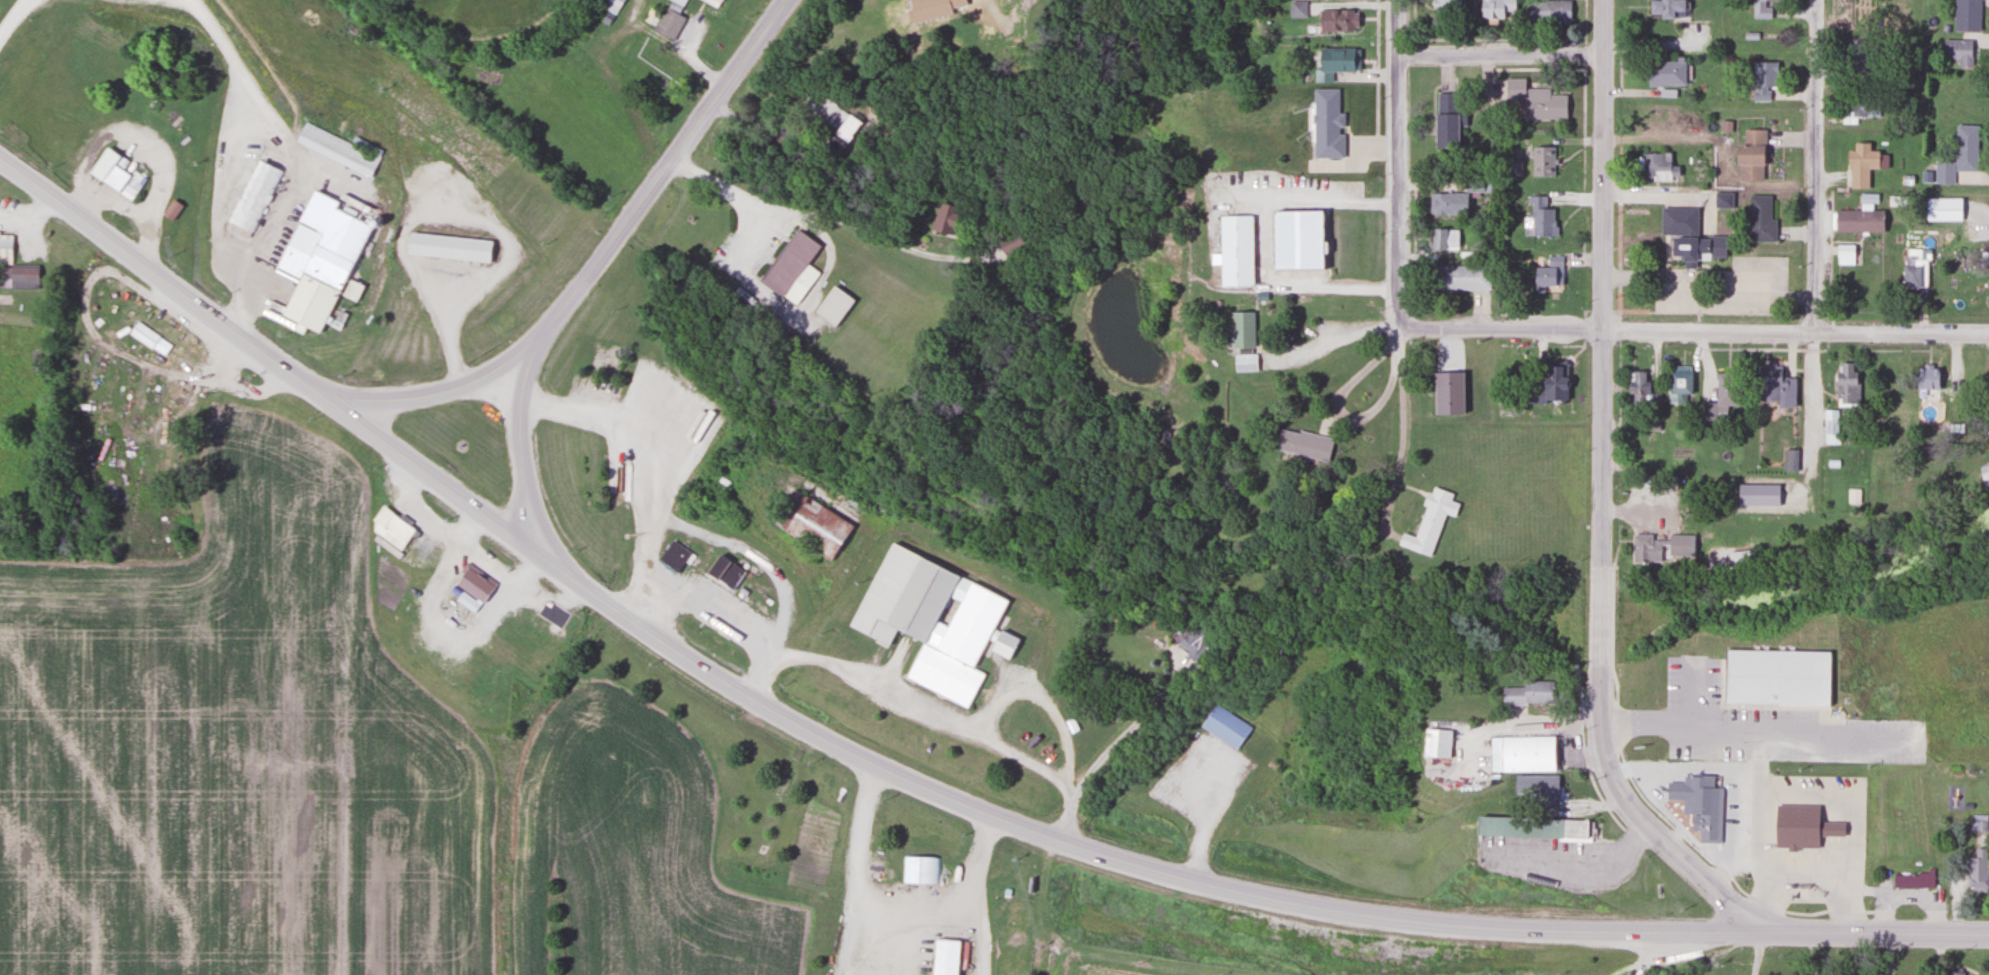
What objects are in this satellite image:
building: (713, 2)
building: (1446, 2)
building: (611, 6)
building: (1296, 8)
building: (1495, 9)
building: (1665, 9)
building: (1763, 9)
building: (991, 11)
building: (1547, 12)
building: (1966, 15)
building: (1864, 17)
building: (669, 19)
building: (1336, 20)
road: (1484, 38)
road: (749, 50)
building: (1957, 51)
road: (1584, 53)
building: (1856, 53)
road: (1501, 57)
building: (1334, 62)
road: (1377, 66)
building: (1664, 73)
building: (1762, 81)
building: (1536, 100)
building: (1858, 109)
building: (829, 115)
building: (1664, 119)
building: (1444, 120)
building: (1326, 122)
building: (336, 149)
building: (1959, 155)
road: (1583, 157)
building: (1541, 161)
building: (1748, 162)
road: (1400, 163)
building: (1860, 165)
building: (1656, 167)
building: (96, 174)
building: (1473, 183)
building: (252, 200)
building: (1722, 201)
building: (1447, 203)
road: (637, 205)
building: (1942, 209)
building: (1541, 217)
road: (1814, 219)
building: (944, 220)
building: (1759, 220)
building: (1858, 221)
building: (1297, 237)
building: (1688, 237)
building: (1444, 239)
building: (1012, 242)
building: (447, 248)
building: (1236, 248)
building: (14, 265)
building: (317, 266)
building: (791, 269)
building: (1914, 269)
building: (1548, 273)
road: (163, 277)
building: (1459, 277)
building: (350, 291)
building: (831, 306)
building: (1241, 329)
road: (1694, 331)
building: (148, 338)
building: (134, 373)
park: (1466, 374)
building: (1885, 379)
building: (1925, 379)
building: (1844, 382)
building: (1548, 384)
building: (1678, 385)
building: (1774, 386)
road: (455, 387)
building: (1637, 387)
building: (158, 390)
building: (664, 394)
building: (1720, 399)
building: (710, 418)
building: (1831, 427)
road: (518, 436)
building: (1302, 444)
building: (1640, 449)
building: (1789, 461)
building: (1984, 474)
road: (1598, 497)
building: (1427, 523)
building: (811, 525)
building: (389, 532)
building: (1678, 547)
building: (1645, 549)
building: (673, 556)
building: (1740, 559)
building: (723, 572)
building: (473, 583)
building: (946, 630)
building: (1191, 637)
building: (1776, 677)
building: (1528, 693)
building: (1224, 726)
building: (1435, 743)
building: (1522, 754)
crop: (324, 764)
building: (1537, 786)
building: (1714, 805)
road: (986, 814)
building: (1978, 823)
building: (1800, 827)
building: (1529, 828)
building: (920, 871)
building: (1977, 871)
building: (1914, 880)
road: (1872, 932)
building: (944, 957)
crop: (1101, 972)
building: (1952, 972)

